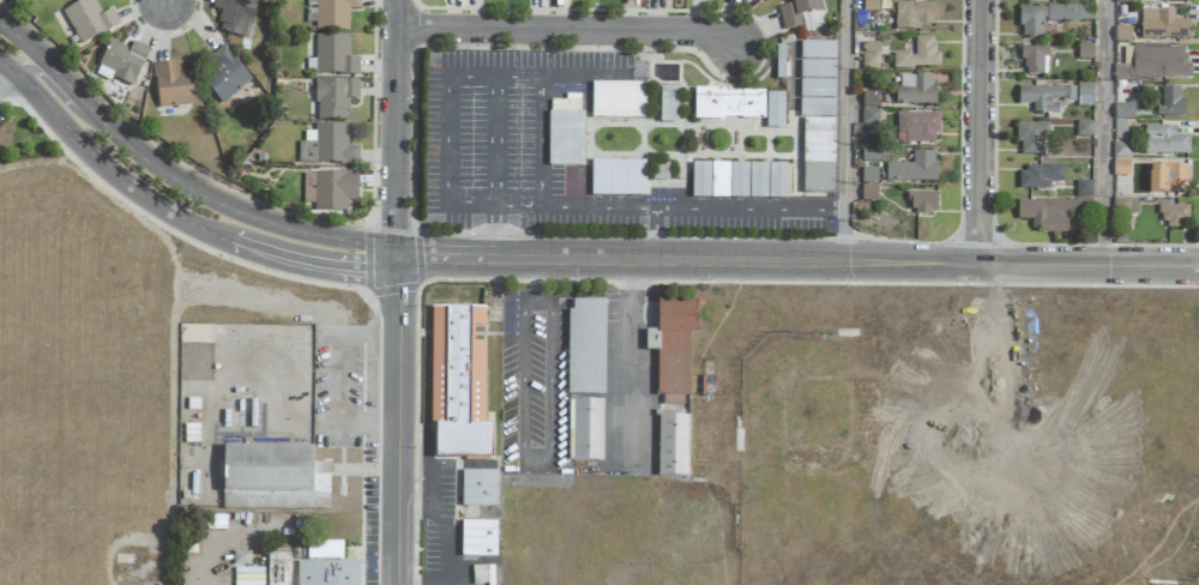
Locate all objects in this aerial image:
building: (1167, 0)
building: (1122, 1)
road: (164, 2)
building: (869, 5)
building: (233, 14)
building: (333, 14)
building: (799, 14)
building: (914, 16)
building: (1049, 17)
building: (88, 20)
building: (1161, 25)
road: (572, 31)
building: (817, 50)
building: (1084, 52)
building: (869, 55)
building: (918, 55)
building: (333, 56)
road: (40, 58)
building: (1034, 61)
building: (121, 62)
building: (1152, 64)
road: (8, 67)
building: (817, 70)
building: (225, 76)
road: (8, 78)
road: (46, 83)
building: (174, 85)
building: (817, 89)
building: (915, 89)
building: (1084, 95)
building: (1044, 97)
building: (333, 98)
building: (617, 101)
road: (447, 102)
building: (1170, 102)
building: (668, 104)
building: (728, 104)
building: (815, 108)
building: (775, 110)
building: (1123, 111)
building: (869, 116)
building: (916, 127)
building: (1074, 128)
road: (393, 129)
road: (845, 132)
road: (981, 133)
road: (1107, 133)
building: (1031, 138)
building: (565, 139)
road: (494, 140)
road: (543, 141)
building: (1164, 141)
building: (326, 146)
building: (1120, 150)
road: (161, 151)
building: (869, 155)
building: (817, 156)
building: (1121, 167)
building: (914, 169)
building: (659, 171)
building: (1038, 176)
building: (616, 179)
building: (1167, 179)
building: (709, 180)
building: (737, 181)
building: (766, 181)
building: (1084, 188)
building: (333, 191)
building: (923, 203)
road: (219, 204)
building: (1123, 206)
road: (598, 207)
road: (722, 209)
building: (1050, 212)
building: (1173, 215)
road: (181, 219)
road: (493, 234)
road: (795, 264)
road: (535, 283)
building: (652, 340)
building: (585, 348)
building: (674, 349)
road: (626, 363)
crop: (84, 382)
building: (457, 385)
road: (397, 422)
building: (585, 430)
building: (673, 446)
road: (428, 459)
road: (534, 459)
building: (273, 478)
building: (478, 489)
road: (441, 530)
building: (477, 539)
building: (324, 550)
building: (240, 557)
building: (277, 569)
building: (326, 573)
building: (248, 577)
road: (418, 584)

